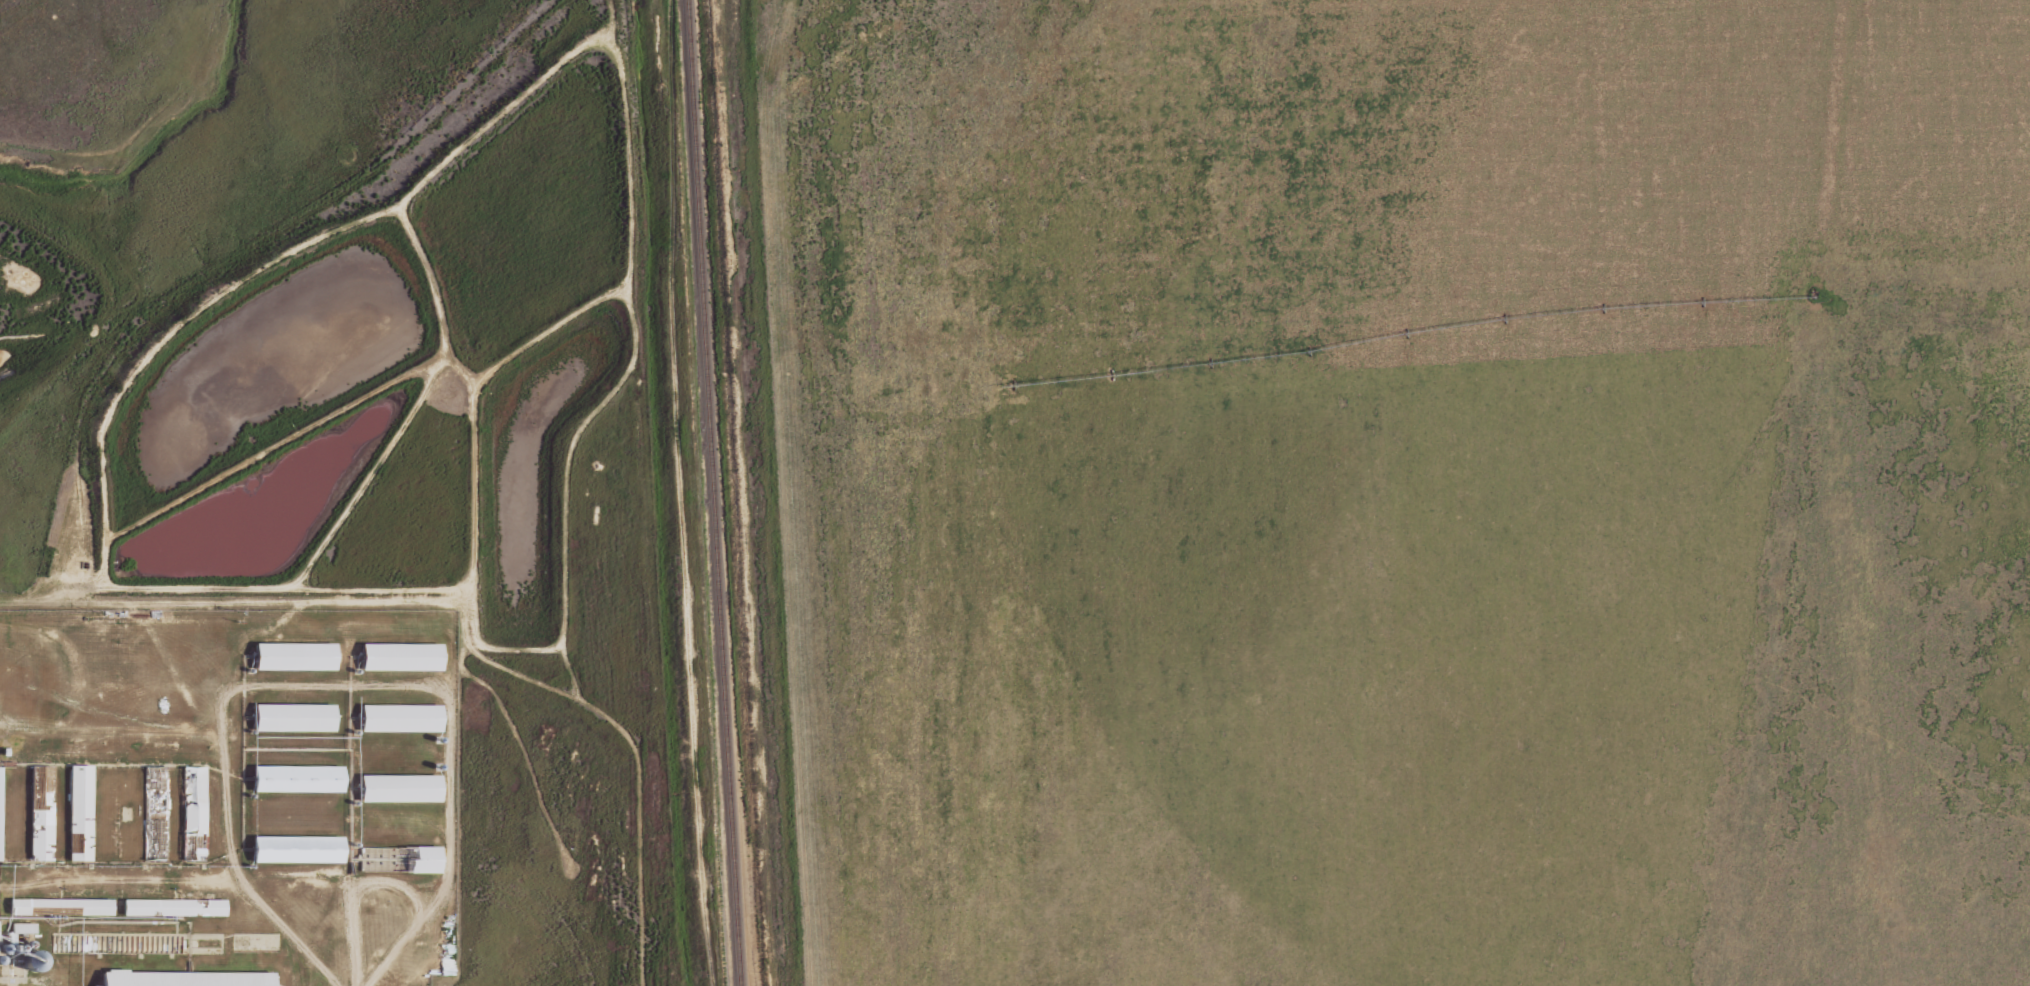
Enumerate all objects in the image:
railway: (718, 492)
building: (295, 656)
building: (402, 657)
building: (296, 718)
building: (401, 718)
building: (298, 779)
building: (400, 788)
building: (81, 813)
building: (193, 813)
building: (43, 814)
building: (155, 815)
building: (1, 817)
building: (297, 849)
building: (402, 859)
building: (176, 905)
building: (61, 906)
building: (20, 927)
building: (183, 977)

